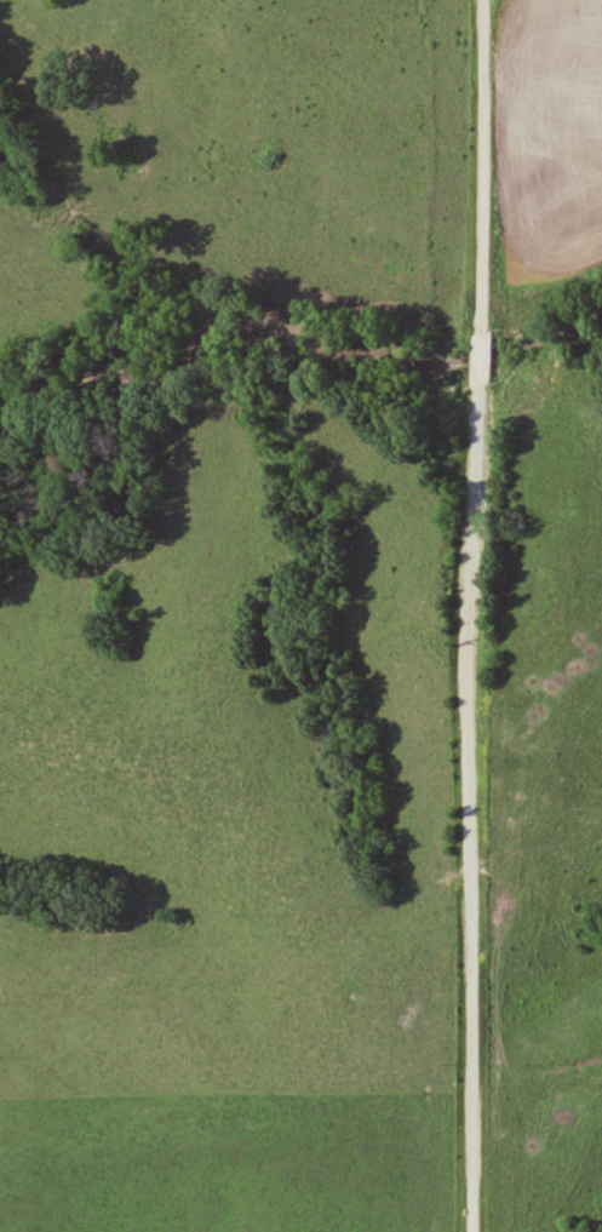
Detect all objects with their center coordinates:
road: (472, 615)

